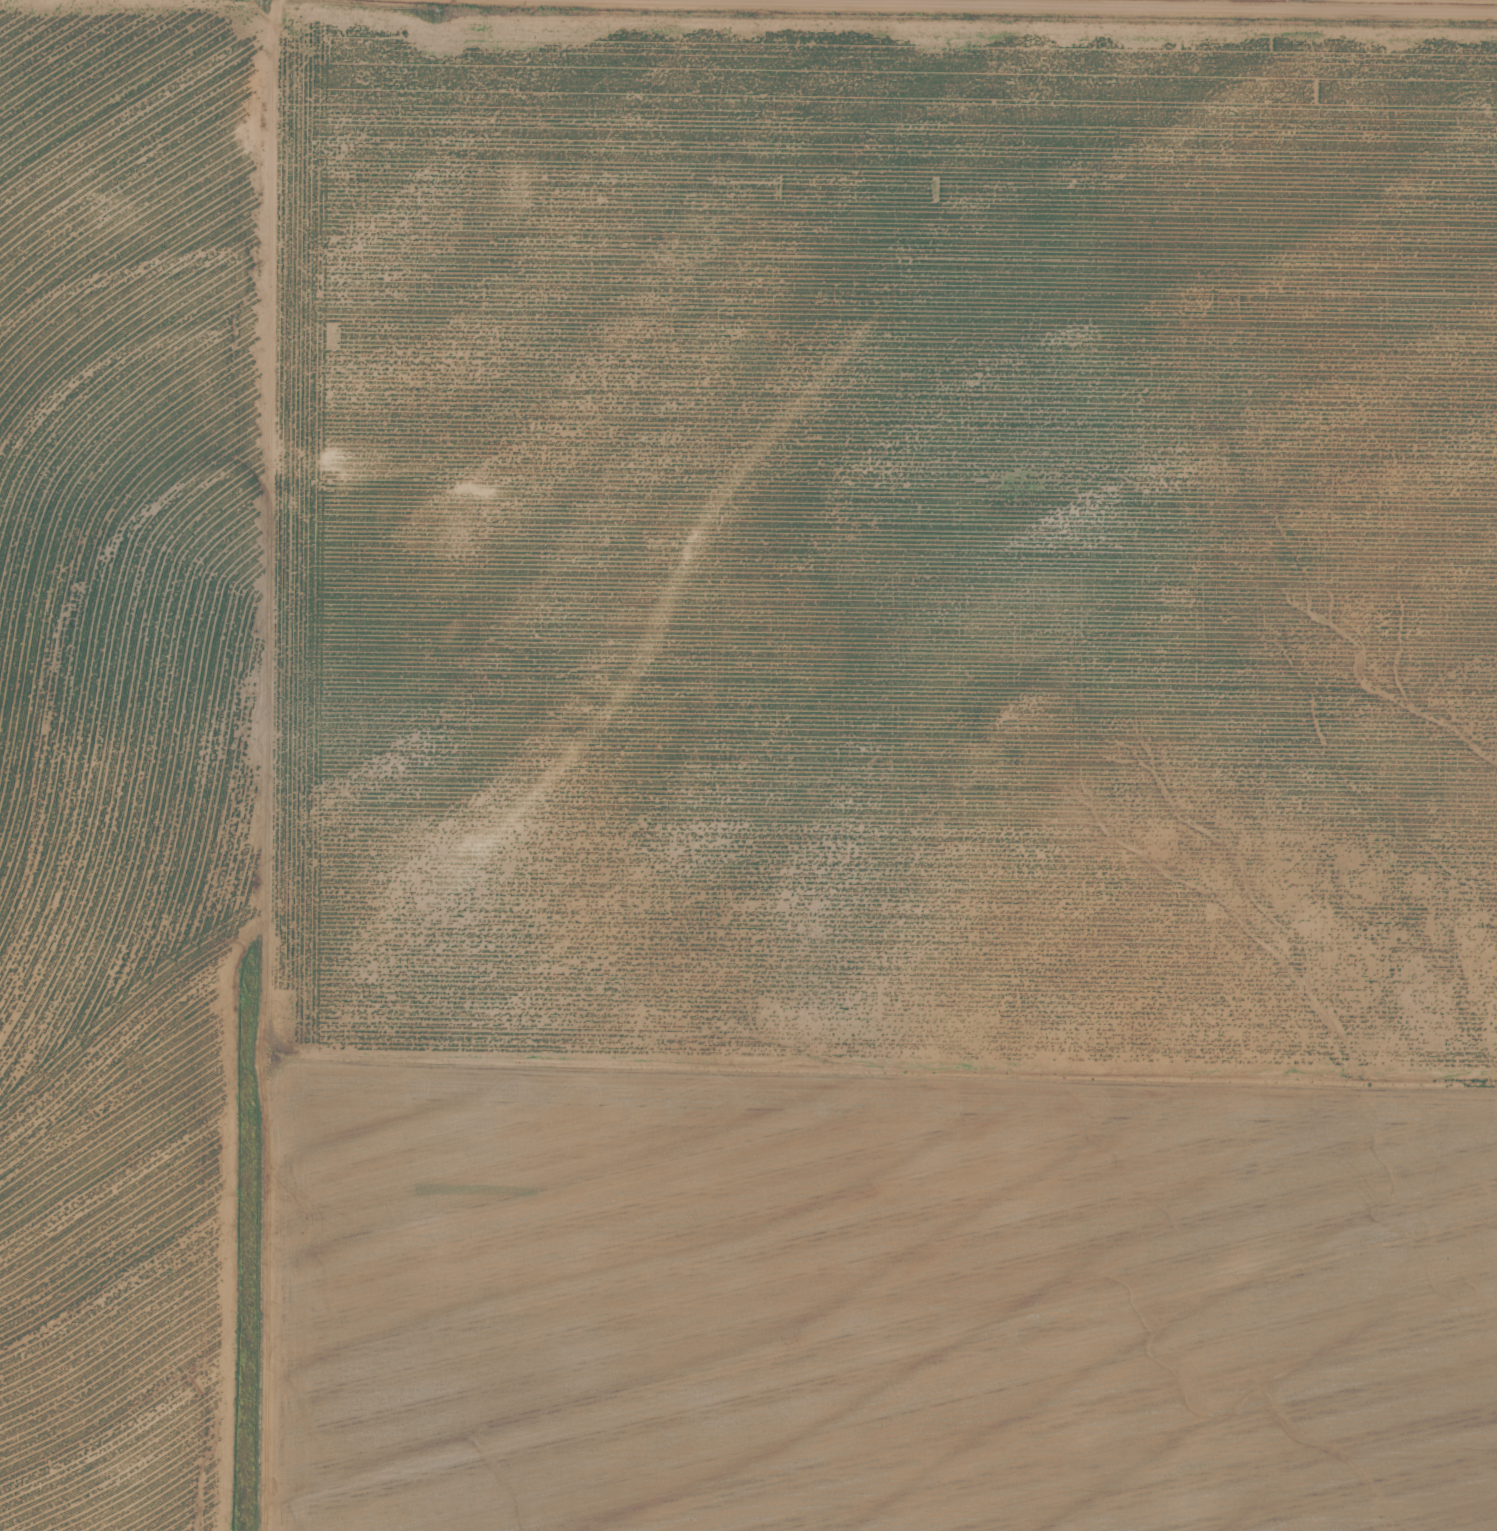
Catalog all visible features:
road: (419, 1)
road: (748, 10)

